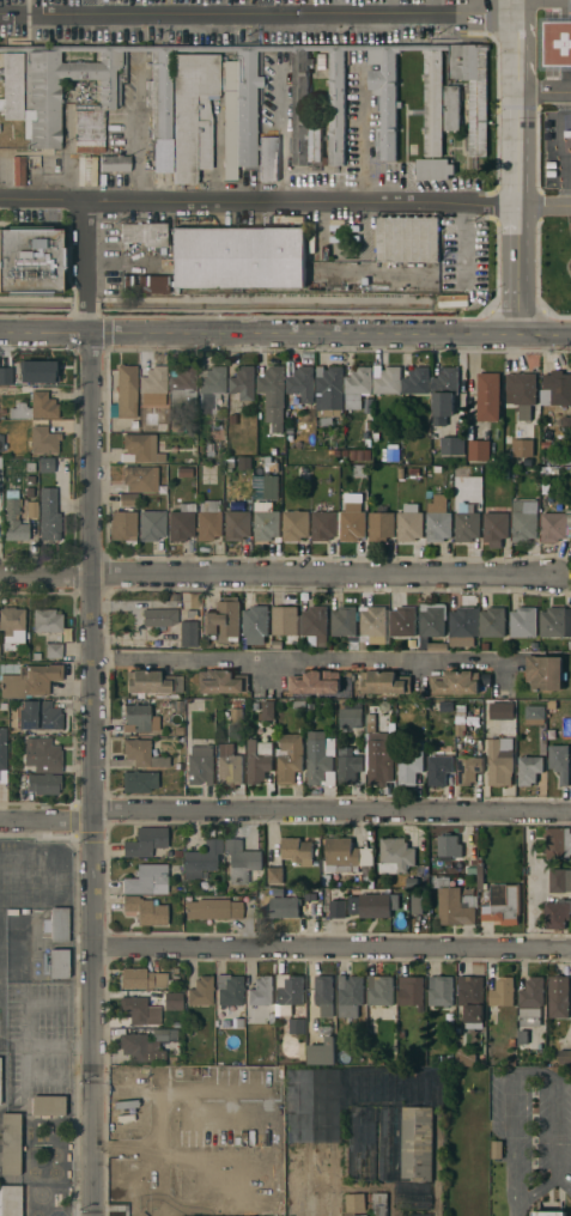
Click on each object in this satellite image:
road: (505, 7)
road: (91, 8)
road: (253, 16)
building: (557, 43)
helipad: (567, 47)
road: (540, 92)
building: (237, 103)
building: (451, 108)
building: (566, 134)
building: (115, 162)
building: (19, 170)
building: (90, 170)
road: (510, 175)
road: (255, 199)
road: (541, 203)
building: (145, 233)
building: (407, 239)
building: (238, 257)
building: (30, 260)
road: (90, 265)
building: (146, 284)
road: (285, 334)
building: (5, 375)
building: (45, 376)
building: (387, 379)
building: (417, 382)
building: (243, 383)
building: (302, 383)
building: (152, 384)
building: (182, 384)
building: (212, 385)
building: (357, 387)
building: (555, 389)
building: (329, 390)
building: (126, 393)
building: (273, 393)
building: (523, 393)
building: (444, 394)
building: (487, 397)
building: (36, 407)
building: (43, 439)
building: (215, 445)
building: (452, 446)
building: (141, 448)
building: (522, 448)
building: (479, 450)
building: (390, 454)
building: (560, 454)
building: (138, 479)
building: (269, 487)
building: (128, 499)
building: (32, 511)
building: (48, 511)
building: (14, 518)
building: (352, 518)
building: (209, 519)
building: (438, 519)
building: (524, 521)
building: (181, 522)
building: (409, 523)
building: (467, 523)
building: (152, 524)
building: (238, 524)
building: (381, 524)
building: (123, 525)
building: (266, 525)
building: (294, 525)
building: (323, 525)
building: (555, 527)
building: (496, 528)
road: (321, 573)
road: (45, 577)
building: (159, 616)
building: (11, 620)
building: (47, 620)
building: (223, 620)
building: (285, 620)
building: (402, 621)
building: (492, 621)
building: (522, 621)
building: (345, 622)
building: (555, 622)
building: (373, 624)
building: (255, 625)
building: (315, 626)
building: (432, 626)
building: (463, 627)
building: (189, 631)
building: (54, 650)
road: (300, 657)
building: (545, 673)
building: (30, 680)
building: (152, 682)
building: (221, 682)
building: (315, 682)
building: (385, 682)
building: (455, 683)
building: (377, 709)
building: (263, 710)
building: (534, 712)
building: (47, 716)
building: (232, 716)
building: (350, 717)
building: (139, 718)
building: (503, 718)
building: (460, 724)
building: (142, 754)
building: (2, 755)
building: (45, 756)
building: (259, 758)
building: (290, 760)
building: (350, 761)
building: (559, 761)
building: (409, 762)
building: (499, 764)
building: (200, 765)
building: (320, 765)
building: (229, 766)
building: (381, 766)
building: (439, 767)
building: (468, 770)
building: (529, 770)
road: (93, 773)
building: (139, 780)
building: (41, 783)
road: (273, 814)
building: (145, 841)
building: (558, 843)
building: (449, 846)
building: (297, 851)
building: (395, 856)
building: (339, 858)
building: (202, 859)
building: (242, 862)
building: (274, 875)
building: (147, 880)
building: (559, 880)
building: (503, 904)
building: (417, 905)
building: (454, 905)
building: (375, 906)
building: (285, 907)
building: (220, 908)
building: (338, 908)
building: (146, 910)
building: (557, 913)
building: (60, 924)
road: (321, 946)
building: (14, 955)
building: (59, 963)
building: (142, 979)
building: (230, 989)
building: (381, 990)
building: (201, 991)
building: (261, 991)
building: (411, 991)
building: (441, 991)
building: (502, 992)
building: (288, 993)
building: (324, 995)
building: (350, 996)
building: (559, 997)
building: (174, 999)
building: (472, 999)
building: (530, 1002)
building: (139, 1010)
building: (297, 1026)
building: (147, 1042)
building: (321, 1052)
building: (565, 1057)
building: (464, 1058)
road: (542, 1074)
road: (178, 1084)
building: (48, 1105)
road: (239, 1130)
building: (10, 1143)
road: (218, 1143)
building: (417, 1144)
building: (497, 1149)
road: (261, 1153)
building: (314, 1181)
building: (163, 1191)
building: (11, 1200)
building: (354, 1203)
building: (379, 1204)
road: (511, 1214)
building: (548, 1214)
building: (359, 1215)
building: (418, 1215)

